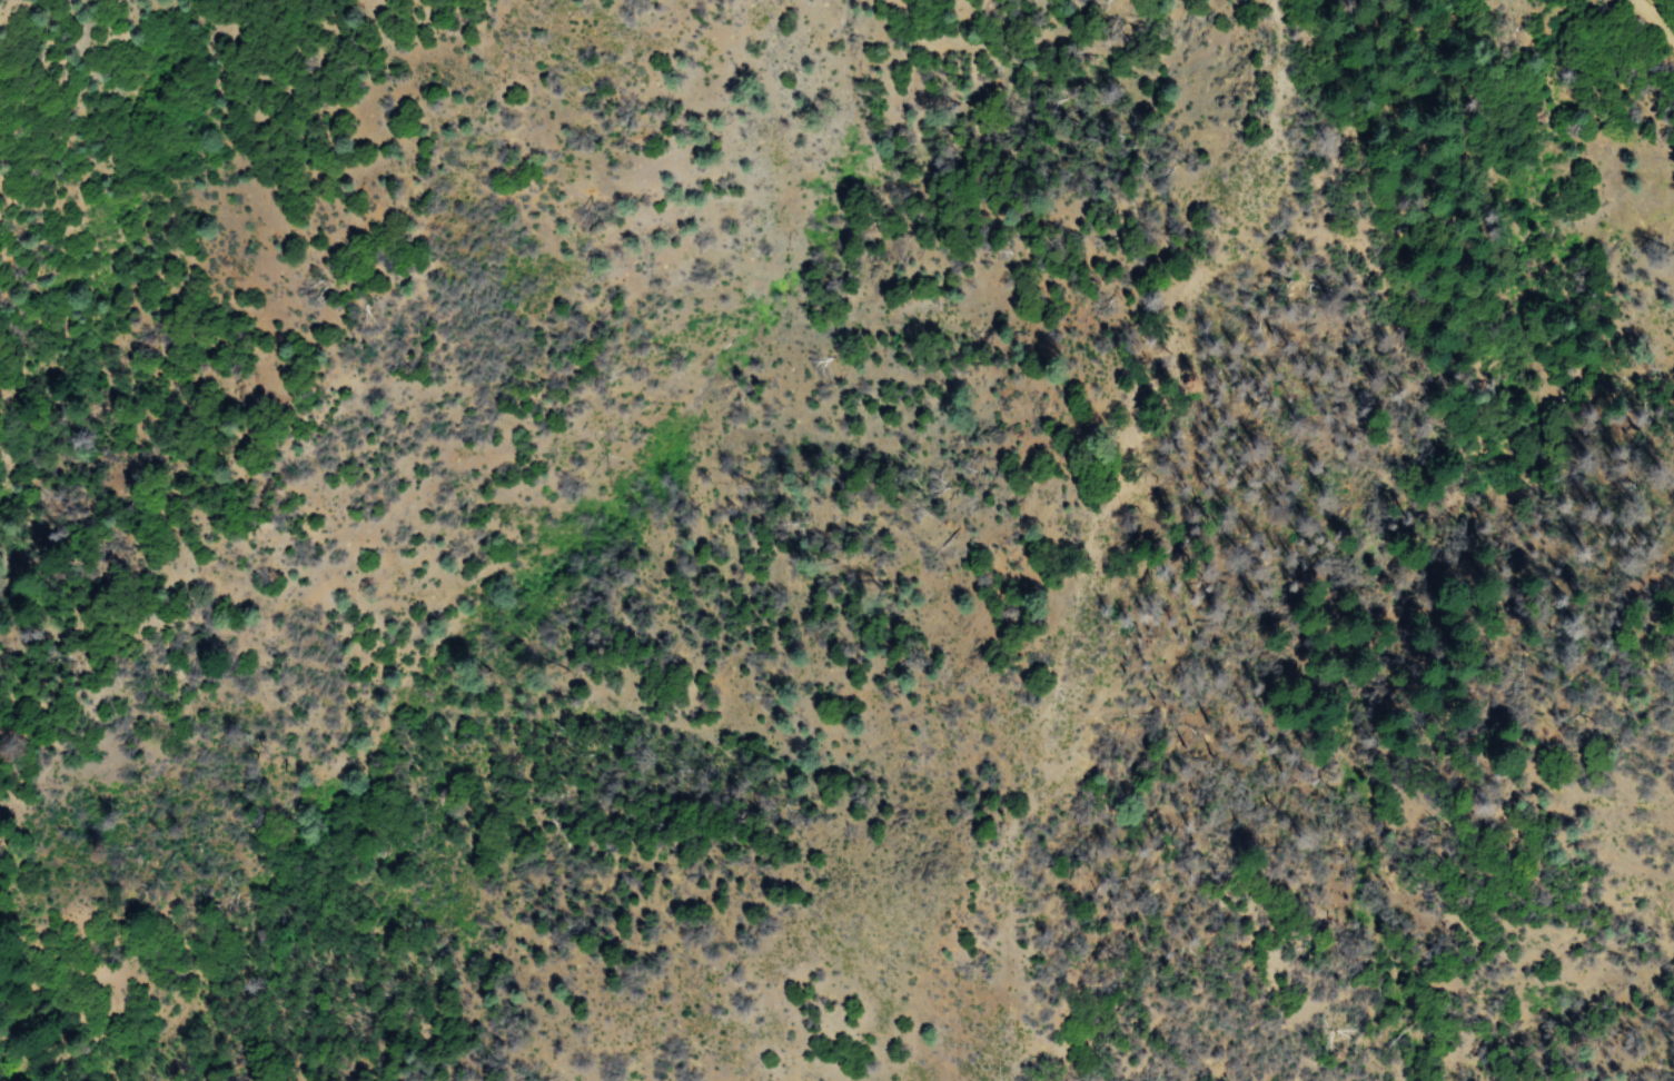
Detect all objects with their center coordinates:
road: (1643, 26)

